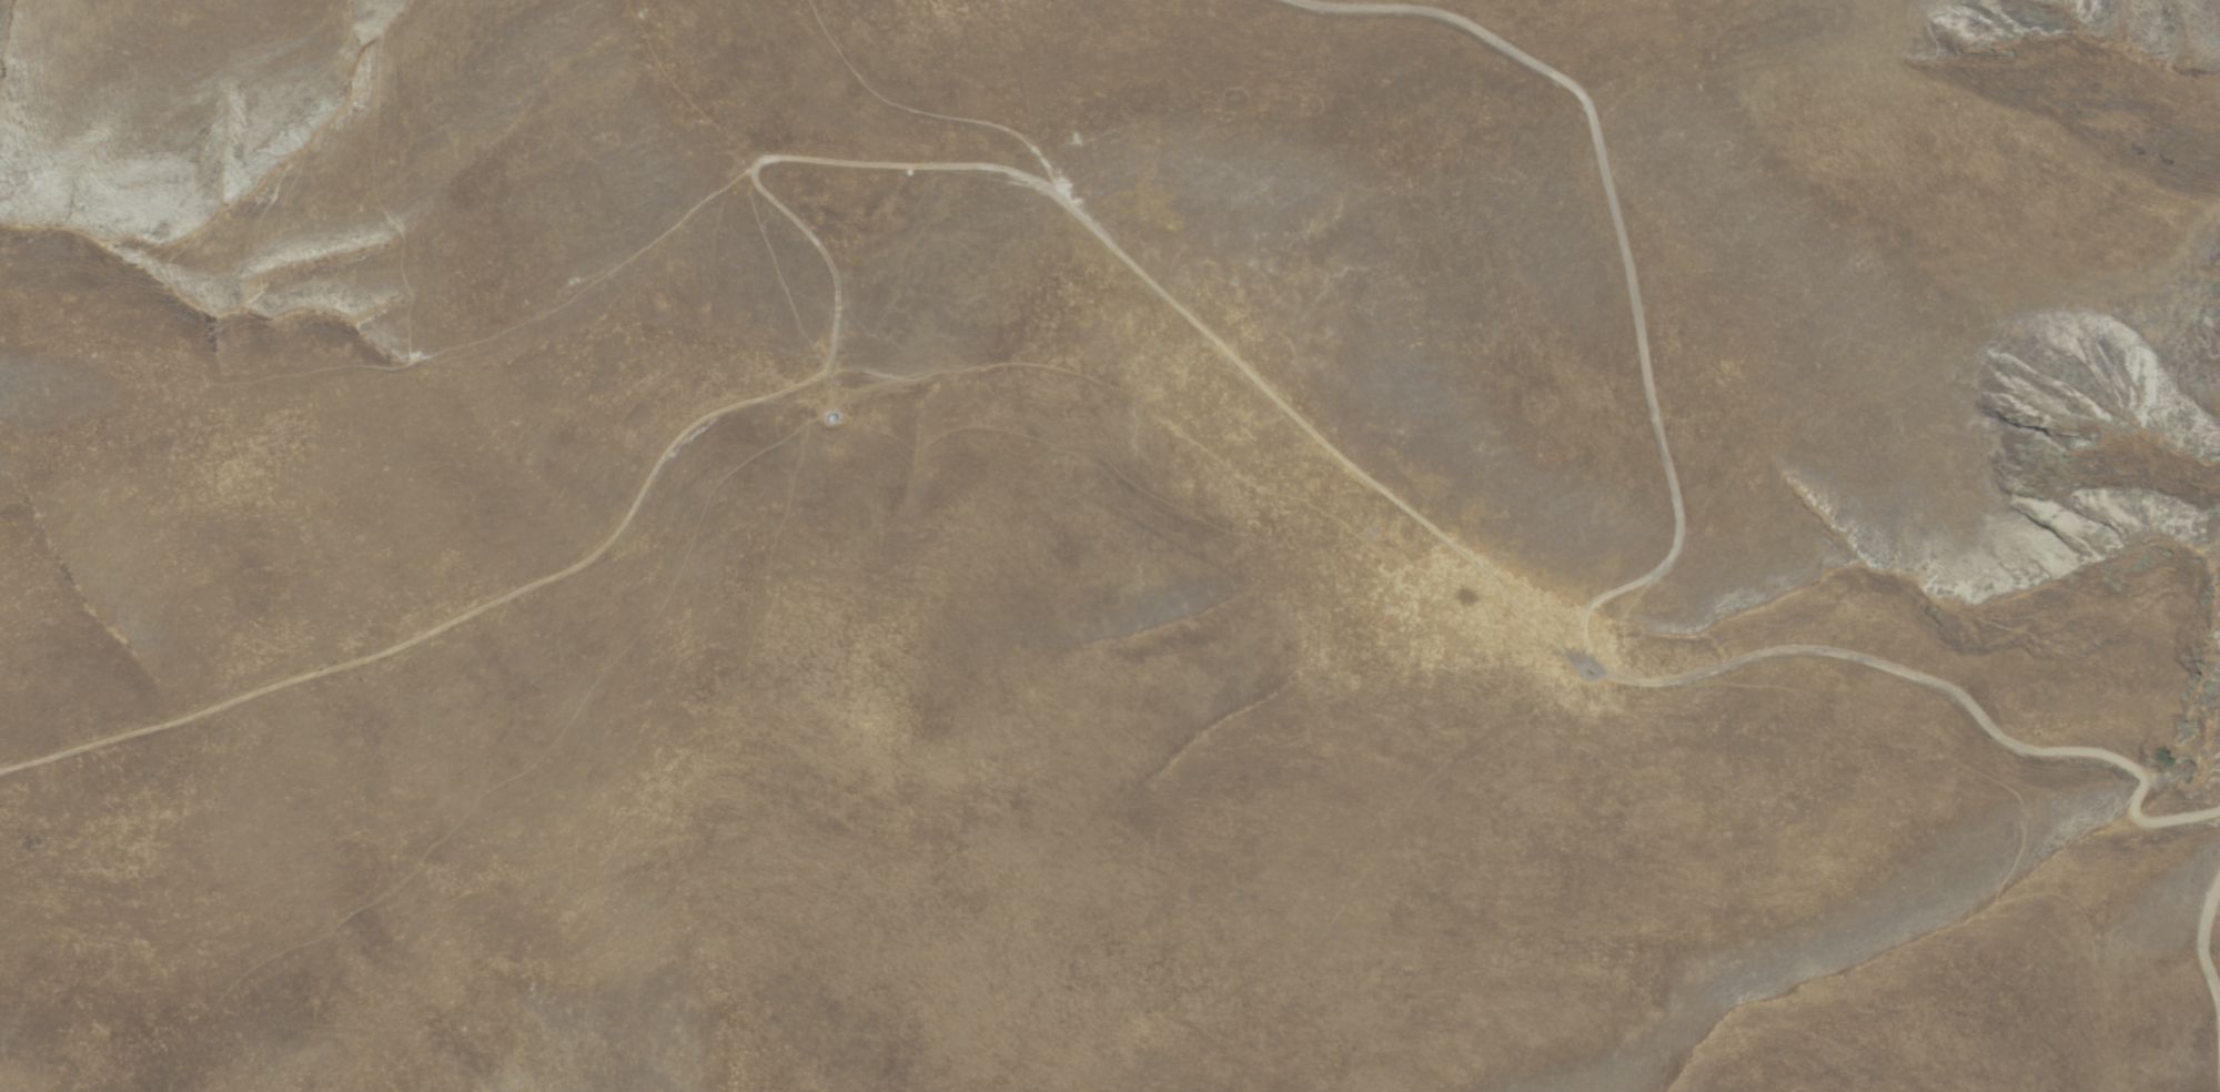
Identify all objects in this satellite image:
road: (1796, 465)

